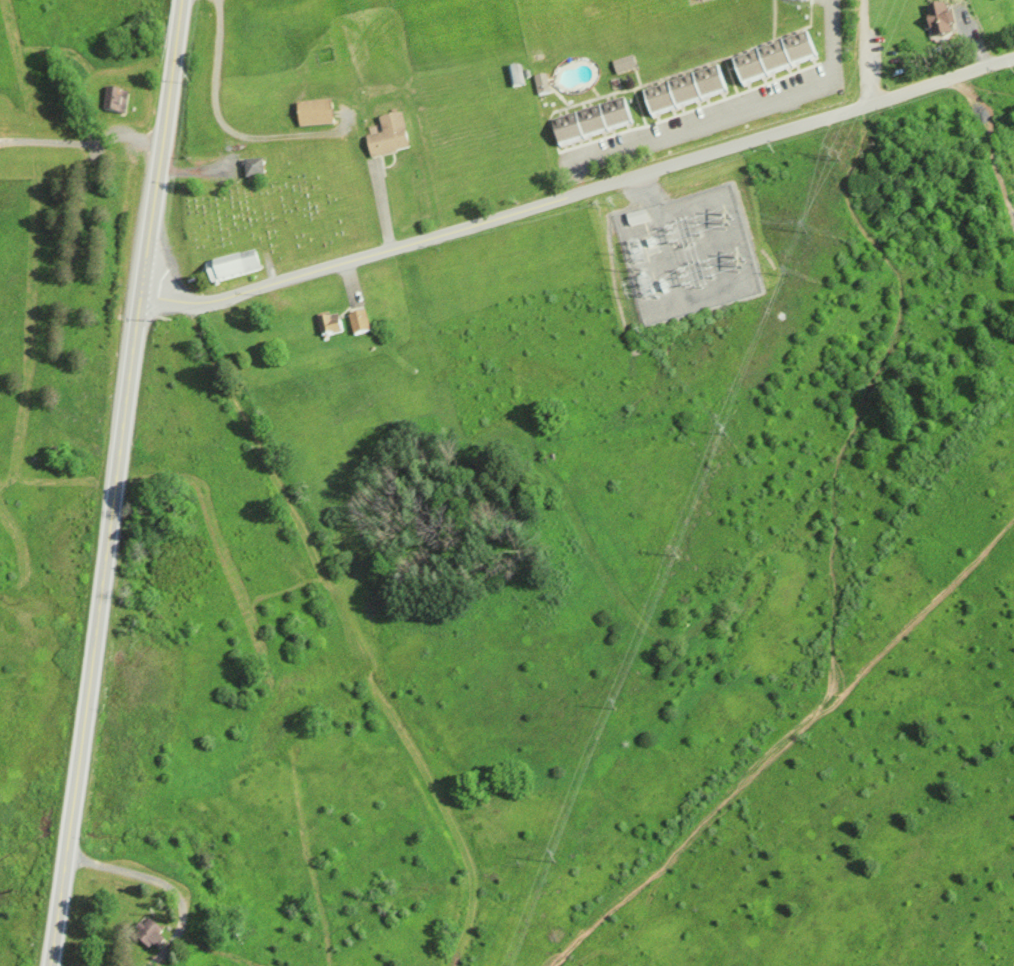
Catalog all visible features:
building: (937, 19)
building: (769, 55)
building: (514, 74)
building: (680, 88)
building: (541, 91)
building: (113, 99)
road: (740, 109)
building: (312, 112)
building: (587, 119)
building: (386, 134)
road: (80, 138)
road: (159, 143)
building: (251, 167)
road: (577, 191)
power tower: (716, 217)
power substation: (683, 248)
power tower: (730, 252)
building: (229, 265)
building: (355, 321)
road: (94, 626)
building: (148, 932)

